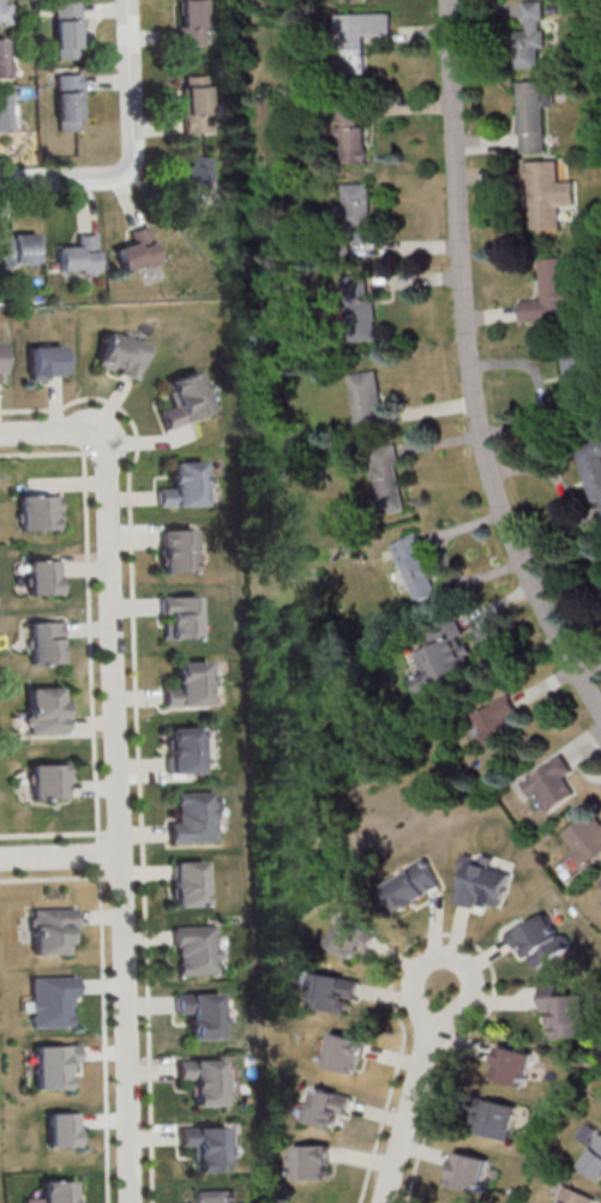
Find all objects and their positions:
building: (5, 12)
building: (193, 22)
building: (68, 29)
building: (531, 36)
building: (357, 37)
building: (5, 56)
building: (71, 101)
building: (197, 102)
building: (5, 110)
building: (533, 113)
building: (351, 136)
road: (136, 154)
building: (197, 174)
building: (547, 193)
building: (357, 211)
building: (19, 248)
building: (139, 251)
building: (80, 255)
building: (549, 294)
building: (359, 307)
building: (122, 354)
building: (46, 361)
building: (0, 363)
road: (473, 363)
building: (577, 377)
building: (368, 396)
building: (186, 399)
road: (50, 453)
building: (591, 469)
building: (387, 479)
building: (185, 485)
building: (37, 511)
building: (178, 549)
building: (415, 567)
building: (42, 577)
building: (181, 615)
road: (90, 637)
building: (46, 640)
building: (444, 655)
building: (190, 685)
building: (46, 710)
building: (497, 721)
road: (139, 738)
building: (185, 750)
road: (116, 771)
building: (48, 780)
building: (551, 783)
building: (194, 817)
road: (112, 830)
road: (52, 834)
building: (585, 837)
road: (59, 853)
road: (98, 854)
road: (113, 876)
road: (53, 877)
building: (480, 880)
building: (190, 883)
building: (413, 884)
building: (49, 928)
road: (451, 934)
building: (351, 936)
building: (539, 938)
building: (194, 948)
road: (465, 964)
building: (332, 992)
building: (50, 999)
building: (567, 1011)
building: (200, 1013)
road: (104, 1035)
building: (344, 1052)
building: (53, 1065)
building: (512, 1065)
building: (203, 1079)
building: (327, 1106)
road: (408, 1109)
building: (497, 1118)
building: (62, 1129)
building: (208, 1147)
building: (591, 1148)
building: (312, 1161)
building: (470, 1171)
building: (58, 1191)
building: (214, 1196)
building: (576, 1196)

